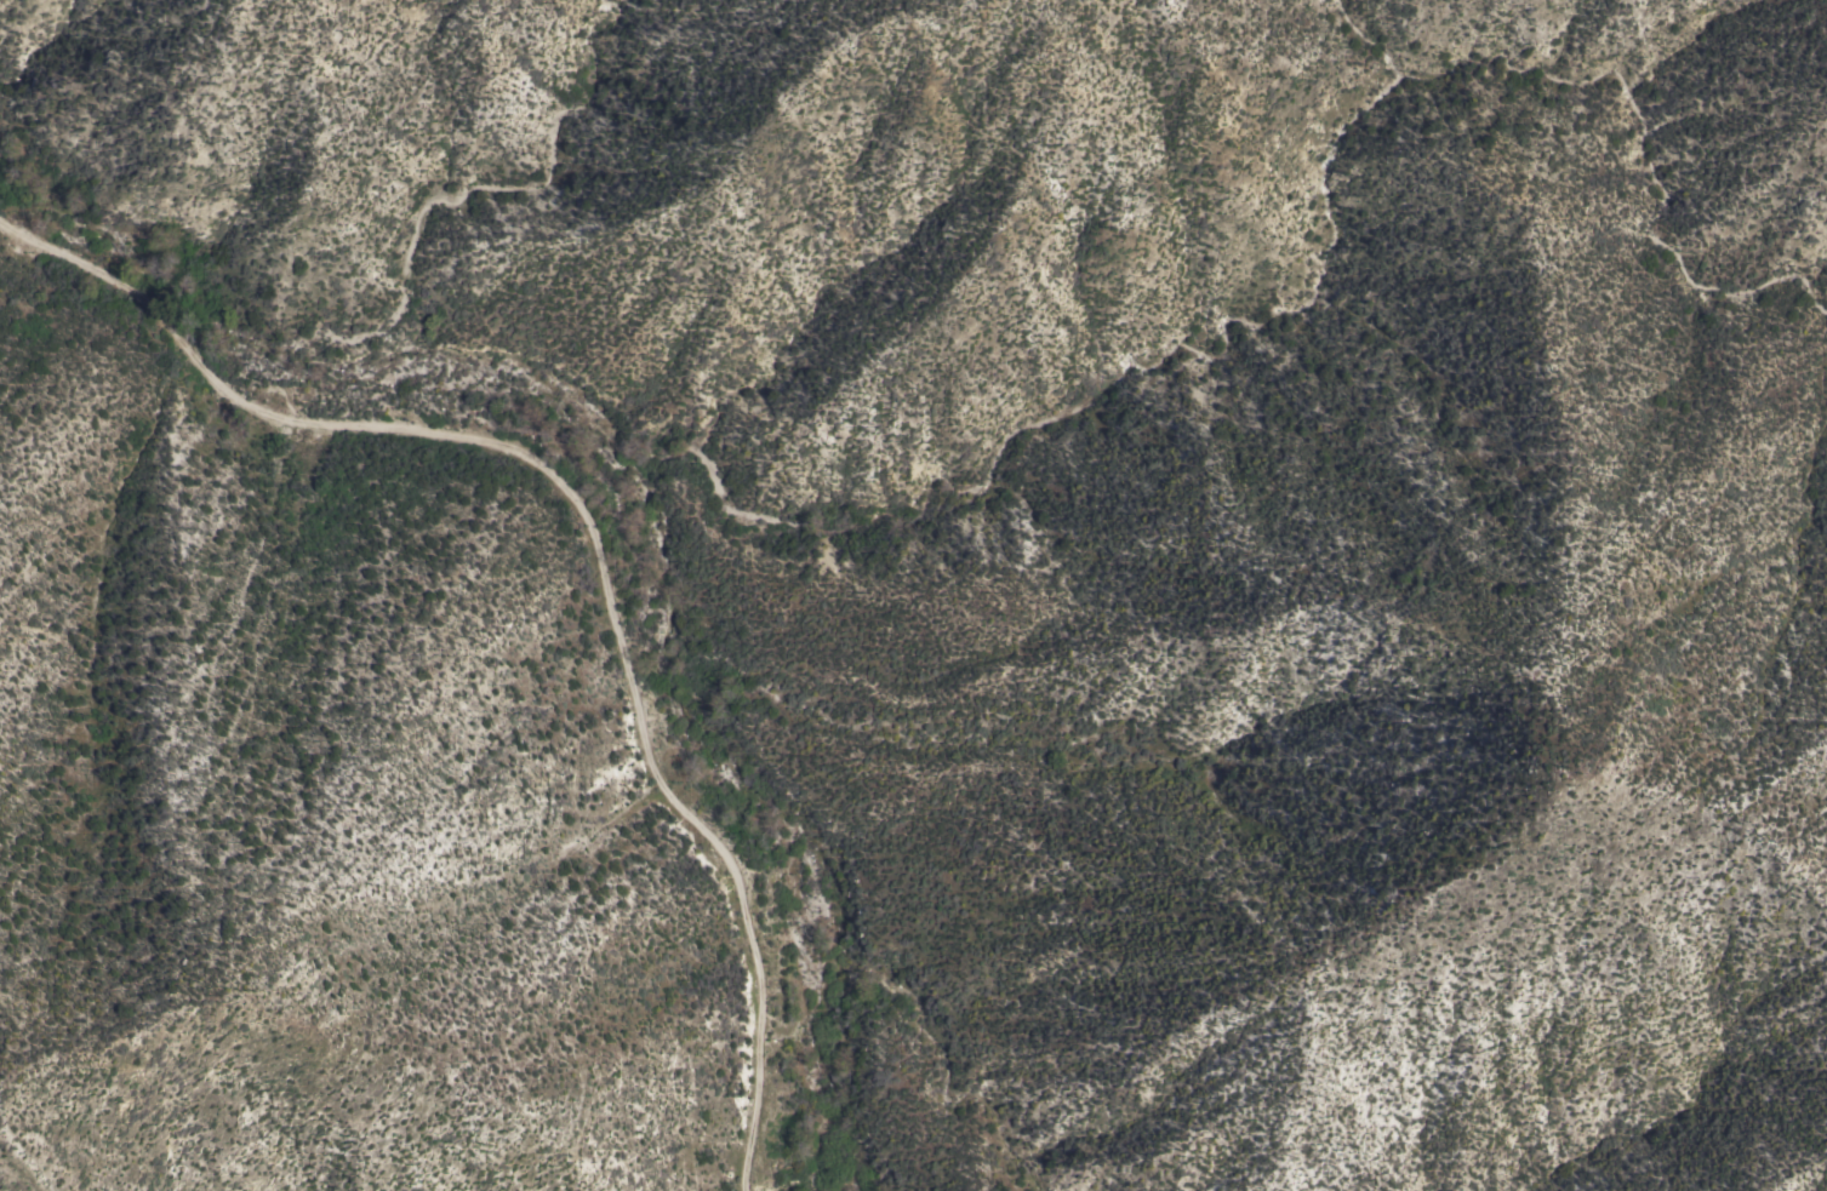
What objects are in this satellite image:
road: (599, 528)

